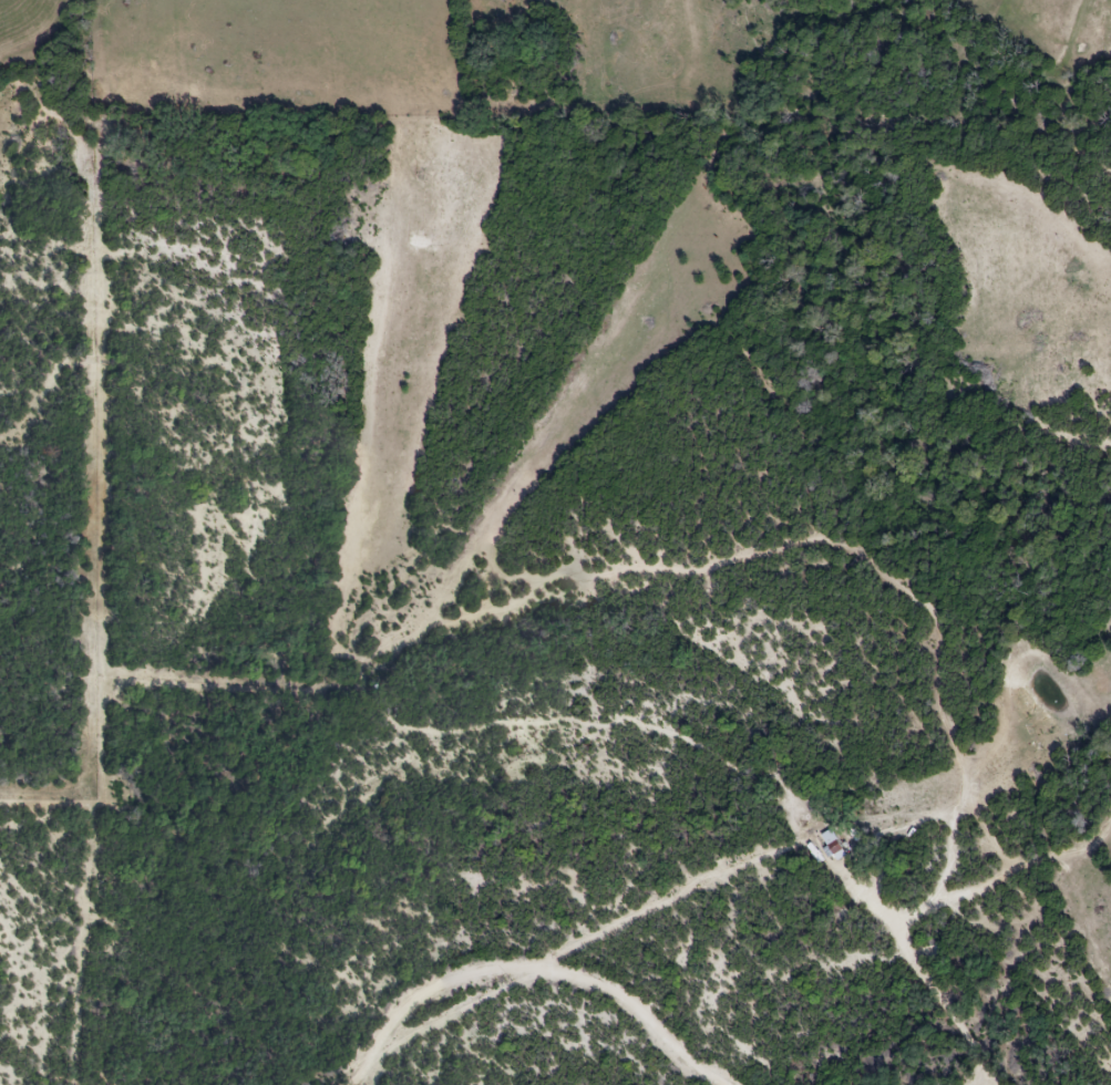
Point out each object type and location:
building: (832, 846)
road: (434, 958)
road: (932, 991)
road: (399, 1075)

